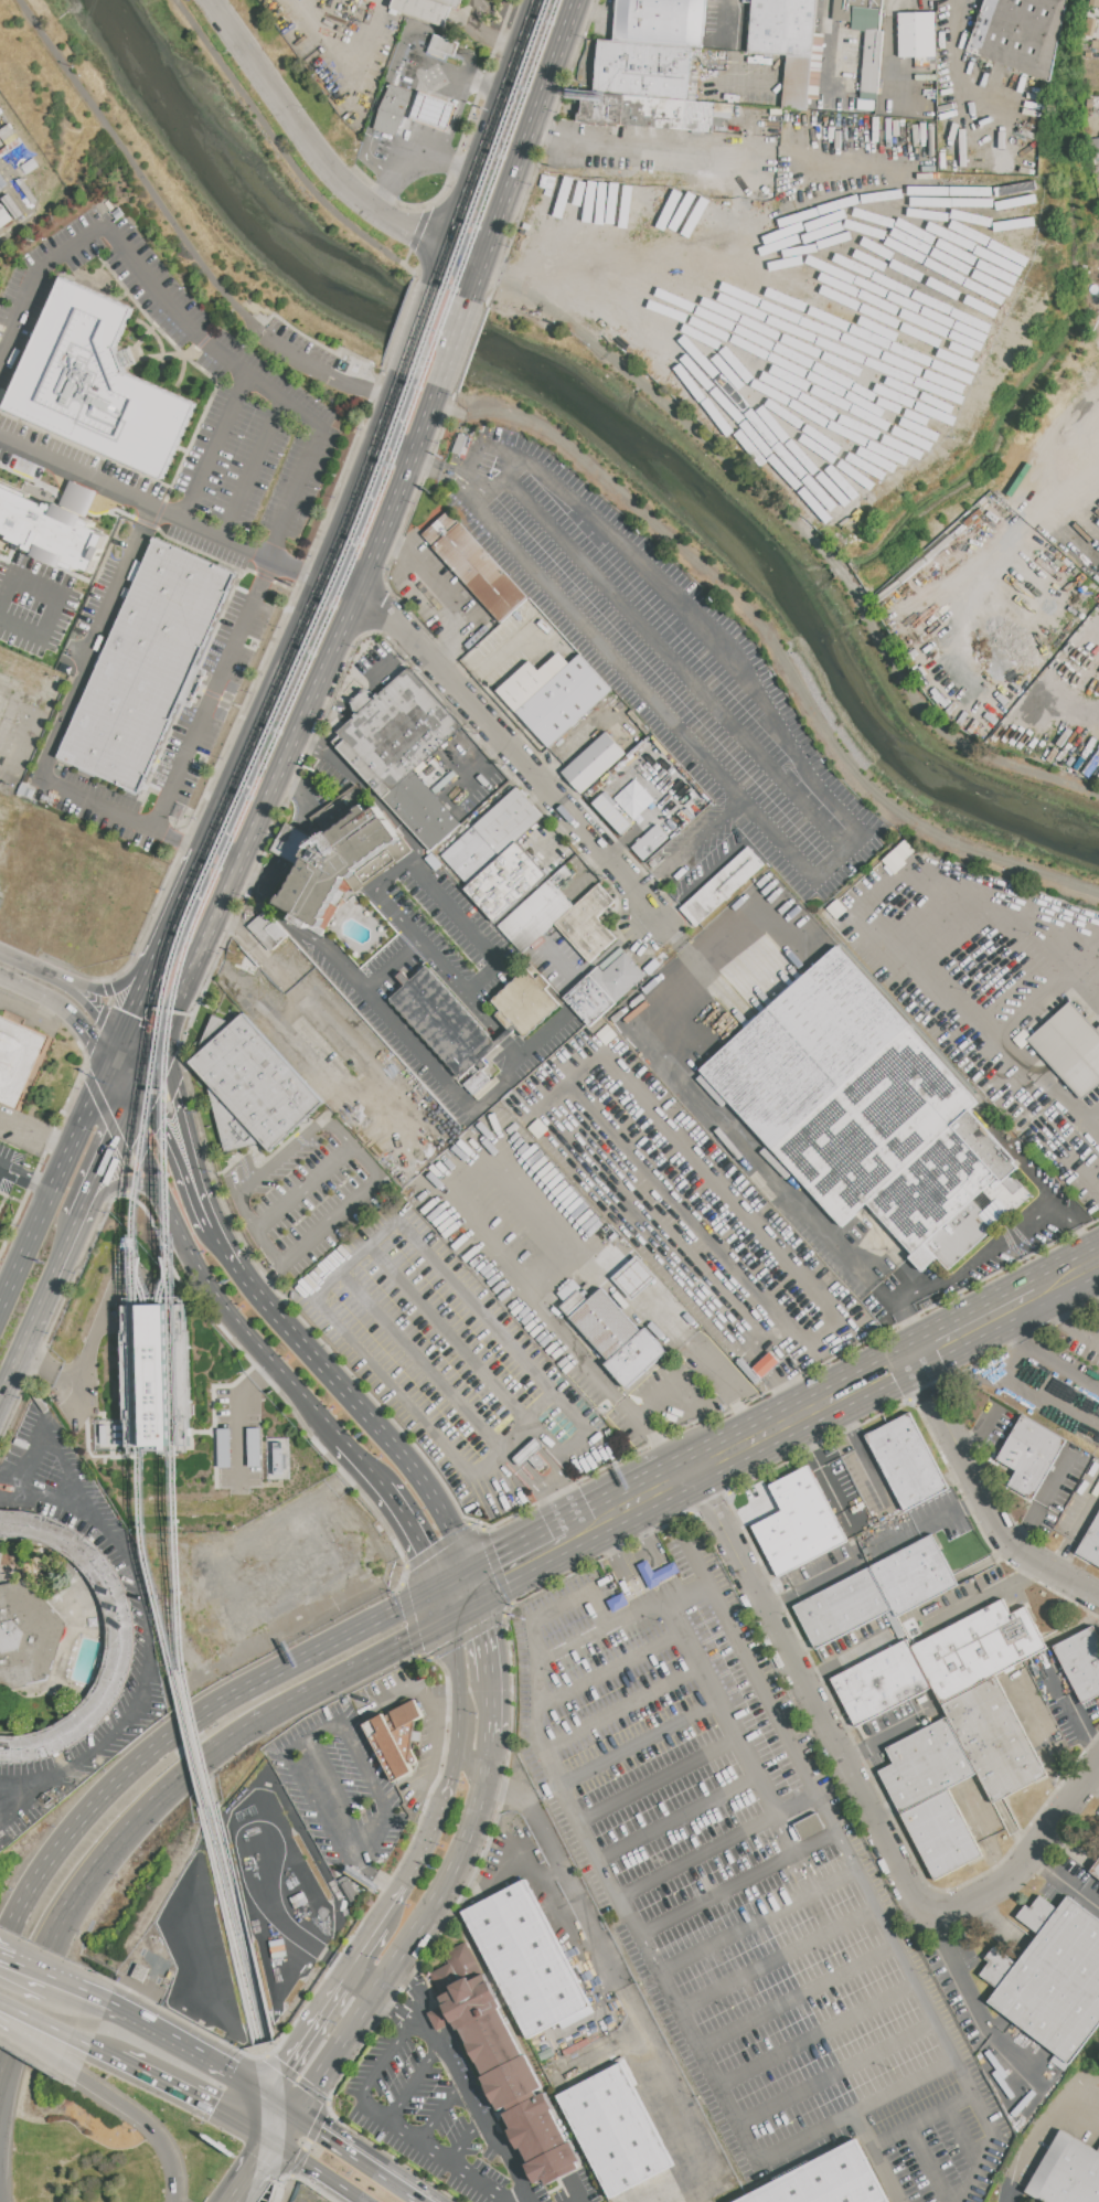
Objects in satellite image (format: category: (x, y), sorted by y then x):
building: (451, 2)
building: (424, 10)
building: (661, 22)
building: (1090, 28)
road: (486, 32)
building: (1020, 33)
building: (918, 38)
building: (787, 42)
building: (869, 45)
building: (442, 46)
road: (732, 58)
road: (467, 63)
building: (644, 70)
road: (446, 76)
road: (506, 88)
road: (956, 88)
road: (486, 89)
building: (868, 96)
road: (382, 97)
building: (866, 104)
building: (600, 106)
building: (394, 109)
building: (725, 110)
building: (435, 111)
building: (669, 113)
road: (532, 132)
road: (310, 145)
road: (420, 145)
road: (647, 145)
building: (1096, 145)
road: (290, 158)
road: (431, 161)
road: (139, 168)
building: (1096, 171)
road: (381, 193)
road: (461, 215)
building: (3, 216)
road: (410, 251)
road: (466, 259)
road: (440, 269)
road: (478, 284)
road: (228, 313)
road: (419, 330)
road: (456, 344)
parking lot: (312, 360)
road: (323, 375)
building: (97, 384)
road: (392, 436)
road: (382, 440)
road: (214, 448)
road: (441, 467)
road: (254, 470)
road: (477, 487)
road: (403, 489)
parking lot: (166, 509)
building: (50, 530)
road: (342, 540)
road: (241, 544)
road: (1000, 550)
building: (474, 566)
road: (345, 583)
road: (54, 604)
parking lot: (669, 662)
building: (149, 666)
building: (530, 681)
road: (214, 683)
road: (1060, 685)
road: (643, 692)
building: (564, 701)
road: (267, 714)
building: (395, 732)
road: (13, 734)
parking lot: (19, 734)
road: (512, 752)
road: (17, 762)
building: (594, 763)
road: (477, 767)
road: (4, 775)
road: (296, 798)
road: (267, 804)
building: (423, 810)
building: (611, 813)
road: (847, 820)
road: (0, 825)
road: (707, 830)
building: (492, 836)
road: (290, 842)
building: (291, 842)
building: (651, 842)
building: (342, 863)
road: (267, 874)
railway: (218, 875)
road: (1, 879)
railway: (206, 879)
road: (1, 882)
building: (505, 882)
building: (723, 886)
road: (869, 895)
road: (186, 898)
building: (536, 915)
road: (405, 923)
building: (588, 924)
building: (267, 930)
road: (673, 939)
road: (489, 950)
parking lot: (974, 969)
road: (989, 971)
building: (605, 988)
road: (70, 989)
road: (116, 991)
road: (143, 996)
building: (525, 1002)
road: (67, 1011)
road: (1027, 1012)
building: (442, 1021)
building: (1070, 1047)
road: (159, 1053)
building: (20, 1062)
road: (677, 1065)
road: (131, 1068)
building: (477, 1083)
building: (252, 1085)
building: (487, 1088)
road: (137, 1103)
road: (462, 1104)
road: (1076, 1105)
building: (860, 1106)
road: (1095, 1117)
road: (38, 1135)
road: (196, 1150)
road: (351, 1150)
road: (1068, 1155)
road: (174, 1157)
road: (280, 1158)
road: (107, 1169)
road: (6, 1172)
parking lot: (14, 1172)
road: (120, 1179)
road: (60, 1184)
road: (33, 1185)
road: (1004, 1240)
road: (709, 1243)
road: (221, 1255)
road: (1079, 1265)
road: (61, 1273)
road: (268, 1277)
building: (633, 1279)
building: (569, 1290)
road: (220, 1297)
road: (424, 1307)
road: (985, 1315)
road: (1073, 1318)
road: (909, 1322)
road: (1020, 1326)
road: (765, 1333)
parking lot: (1079, 1334)
building: (615, 1336)
railway: (149, 1357)
railway: (162, 1357)
road: (422, 1361)
building: (765, 1364)
road: (19, 1368)
road: (1011, 1368)
road: (264, 1372)
railway: (134, 1376)
building: (157, 1376)
railway: (179, 1376)
road: (778, 1379)
road: (386, 1380)
road: (791, 1416)
road: (374, 1421)
road: (237, 1430)
building: (110, 1435)
road: (53, 1443)
road: (862, 1447)
road: (540, 1453)
building: (275, 1457)
building: (1027, 1457)
road: (814, 1460)
building: (908, 1461)
road: (526, 1465)
road: (984, 1493)
road: (626, 1503)
road: (566, 1506)
road: (747, 1512)
road: (931, 1522)
building: (799, 1523)
road: (422, 1539)
building: (1090, 1543)
road: (526, 1556)
road: (696, 1557)
road: (618, 1566)
building: (657, 1572)
building: (916, 1574)
traffic signals: (474, 1584)
road: (810, 1585)
road: (477, 1591)
road: (460, 1592)
road: (675, 1595)
traffic signals: (446, 1599)
road: (981, 1600)
building: (618, 1603)
building: (843, 1608)
road: (431, 1617)
building: (26, 1637)
road: (489, 1638)
building: (121, 1640)
road: (149, 1640)
road: (537, 1645)
building: (980, 1647)
road: (847, 1657)
road: (625, 1660)
building: (1082, 1661)
road: (459, 1683)
building: (881, 1683)
road: (412, 1689)
road: (311, 1693)
road: (494, 1706)
road: (622, 1710)
road: (729, 1722)
road: (184, 1728)
road: (1084, 1730)
building: (396, 1737)
building: (995, 1740)
road: (640, 1742)
road: (299, 1746)
road: (433, 1759)
building: (926, 1765)
road: (471, 1767)
road: (660, 1783)
road: (338, 1794)
road: (862, 1794)
parking lot: (340, 1795)
road: (796, 1804)
road: (676, 1816)
building: (809, 1826)
road: (434, 1831)
building: (942, 1836)
road: (697, 1855)
road: (527, 1857)
building: (1096, 1869)
parking lot: (740, 1876)
road: (1064, 1879)
road: (737, 1883)
road: (866, 1891)
road: (79, 1895)
road: (395, 1908)
road: (278, 1916)
road: (756, 1921)
railway: (241, 1923)
railway: (231, 1926)
road: (417, 1933)
road: (370, 1949)
road: (6, 1957)
road: (776, 1958)
building: (526, 1959)
road: (611, 1966)
road: (33, 1970)
building: (1052, 1977)
road: (349, 1978)
road: (363, 1988)
road: (419, 1988)
road: (967, 1991)
road: (84, 1993)
road: (796, 1997)
road: (429, 2002)
road: (397, 2010)
road: (677, 2010)
road: (388, 2012)
road: (415, 2018)
road: (438, 2018)
road: (47, 2024)
road: (446, 2035)
road: (815, 2035)
road: (172, 2040)
road: (306, 2041)
road: (600, 2044)
road: (41, 2047)
road: (107, 2053)
building: (503, 2061)
road: (834, 2073)
road: (373, 2076)
road: (415, 2081)
road: (252, 2084)
road: (904, 2085)
road: (184, 2091)
traffic signals: (270, 2095)
road: (474, 2103)
road: (285, 2104)
road: (326, 2104)
parking lot: (420, 2109)
road: (440, 2109)
road: (259, 2110)
traffic signals: (300, 2114)
road: (922, 2120)
road: (152, 2125)
road: (1041, 2126)
road: (288, 2128)
road: (263, 2135)
road: (465, 2137)
building: (622, 2139)
road: (962, 2139)
airport: (110, 2142)
traffic signals: (277, 2144)
road: (363, 2158)
road: (448, 2159)
road: (932, 2163)
building: (1066, 2171)
road: (256, 2172)
road: (319, 2172)
road: (1, 2180)
building: (825, 2180)
road: (280, 2184)
road: (713, 2187)
road: (518, 2195)
road: (526, 2195)

